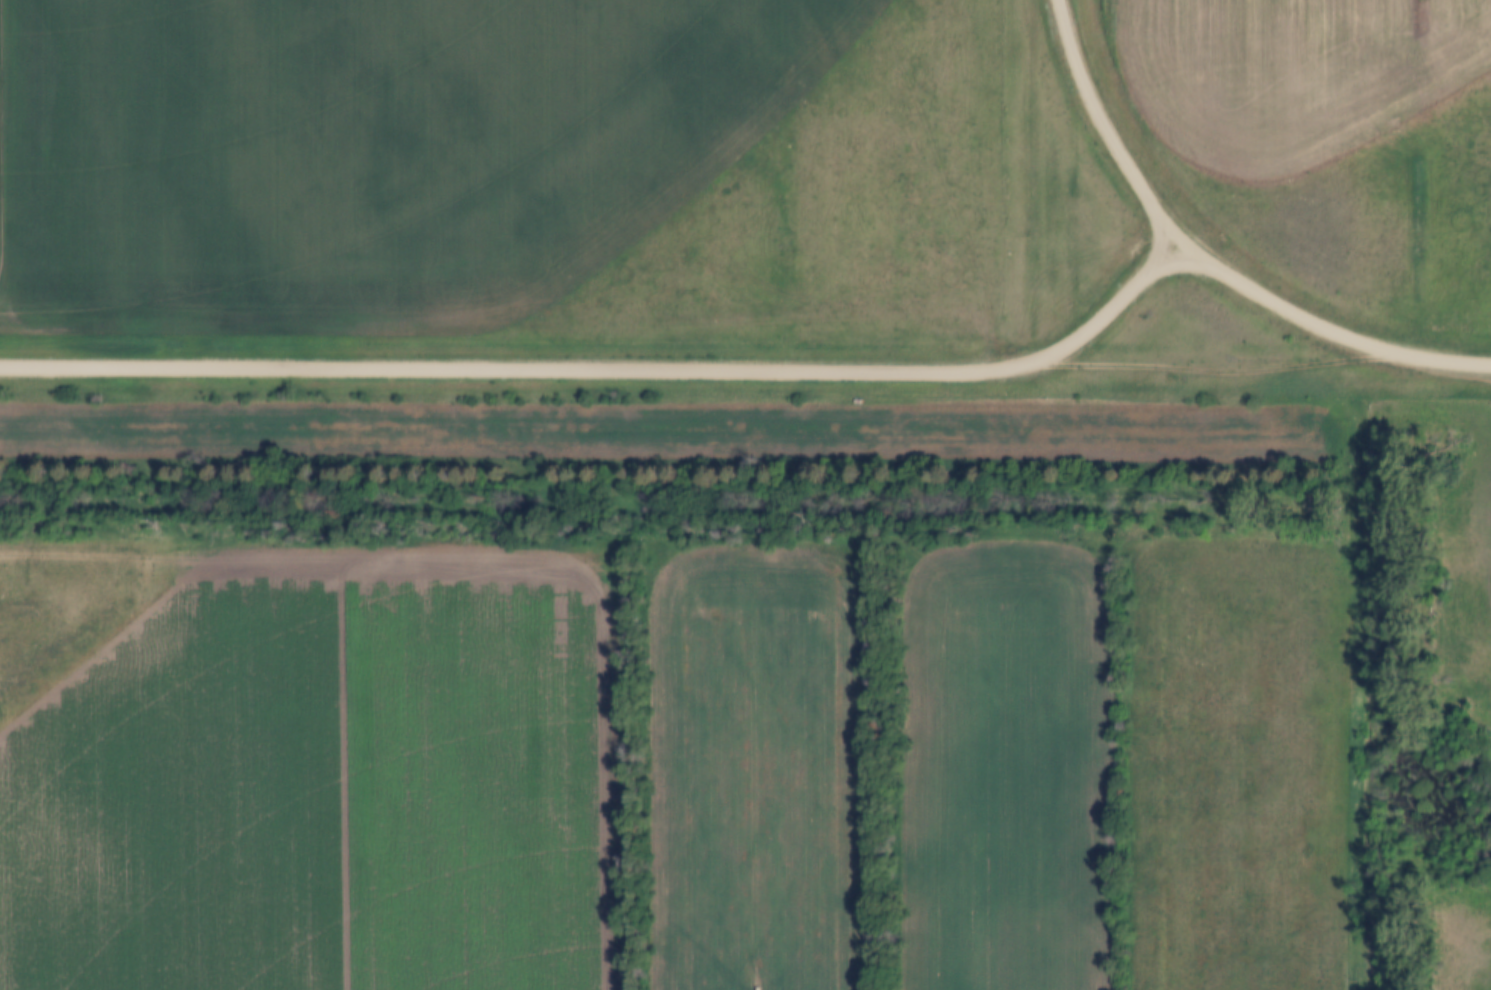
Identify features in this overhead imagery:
road: (0, 13)
road: (1099, 129)
road: (1324, 333)
road: (1215, 366)
road: (613, 369)
road: (555, 549)

